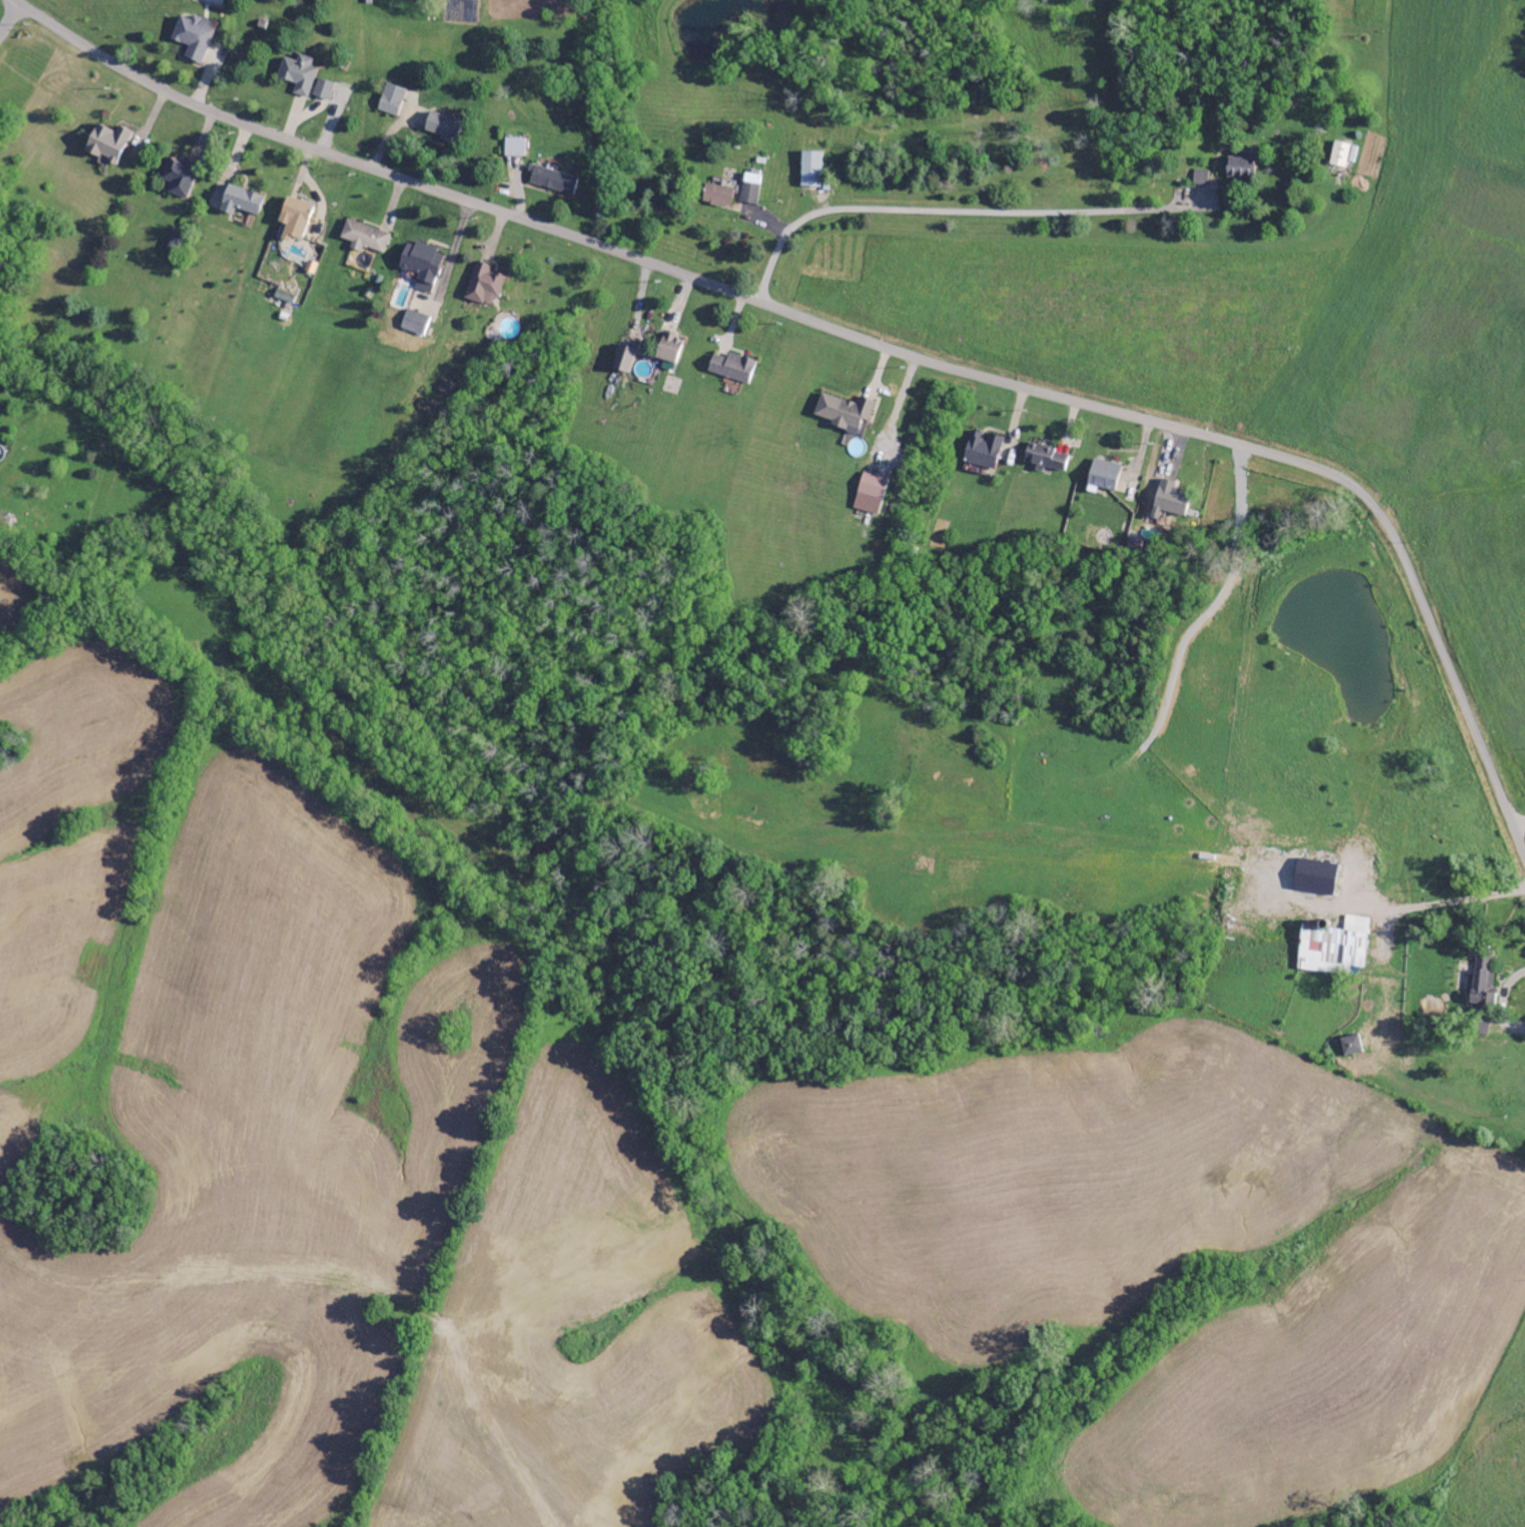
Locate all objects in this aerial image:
road: (10, 17)
building: (193, 37)
building: (298, 75)
building: (322, 90)
building: (391, 100)
building: (442, 127)
building: (107, 144)
building: (514, 148)
building: (1339, 155)
building: (1240, 169)
building: (811, 170)
building: (179, 178)
building: (1200, 179)
building: (553, 181)
building: (750, 189)
building: (717, 195)
building: (240, 202)
road: (938, 209)
building: (294, 220)
building: (364, 238)
road: (453, 253)
building: (422, 266)
building: (484, 287)
building: (284, 298)
building: (414, 323)
road: (868, 340)
building: (669, 350)
building: (623, 360)
building: (732, 369)
building: (843, 411)
building: (983, 450)
building: (1046, 458)
building: (1103, 475)
building: (870, 493)
building: (1169, 500)
road: (1518, 821)
building: (1315, 878)
road: (1414, 902)
building: (1334, 947)
building: (1481, 984)
road: (1500, 997)
building: (1351, 1045)

